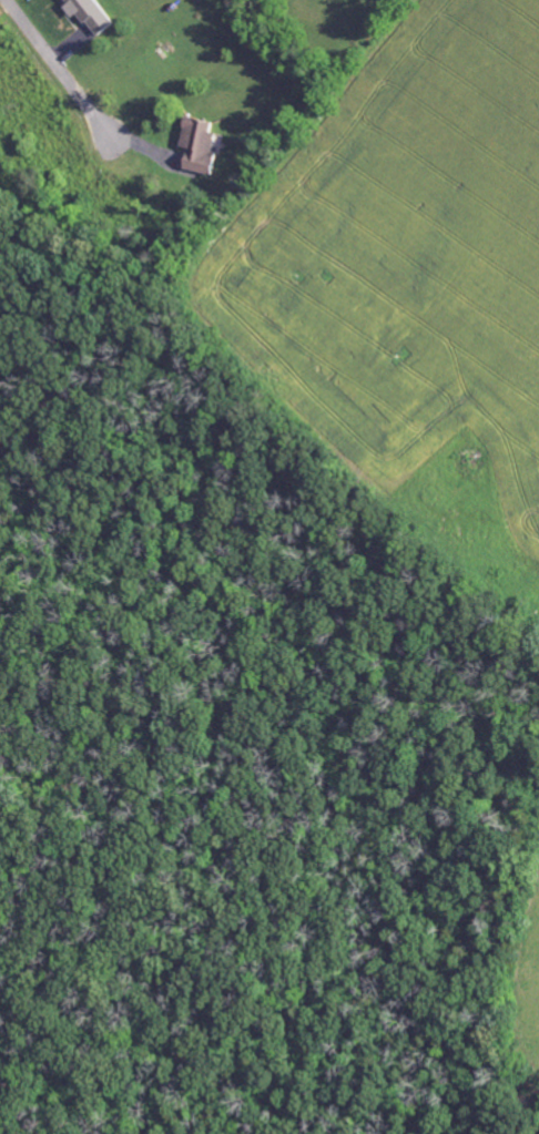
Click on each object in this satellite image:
building: (91, 14)
building: (201, 146)

